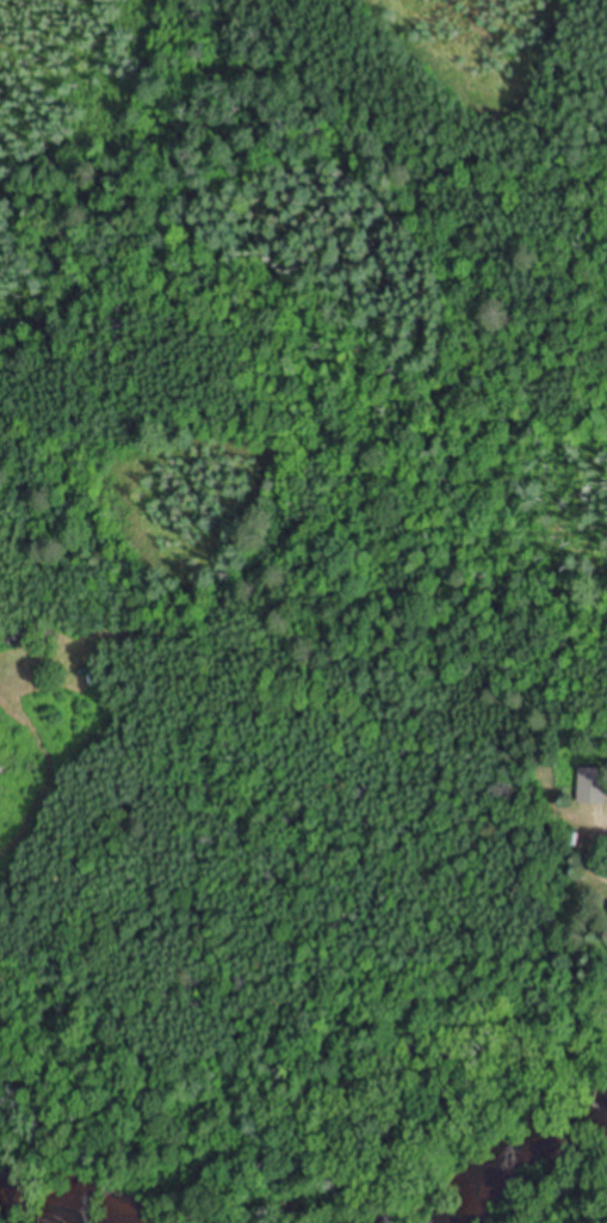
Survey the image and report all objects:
road: (596, 825)
river: (543, 1175)
river: (66, 1209)

